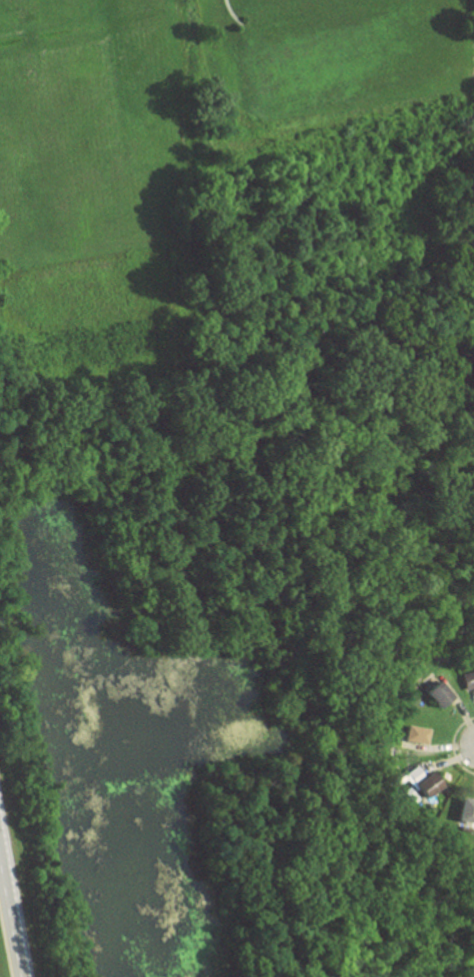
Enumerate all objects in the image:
park: (32, 6)
park: (351, 40)
park: (49, 161)
building: (432, 695)
building: (408, 735)
building: (417, 783)
building: (406, 796)
building: (460, 811)
road: (0, 879)
road: (9, 925)

